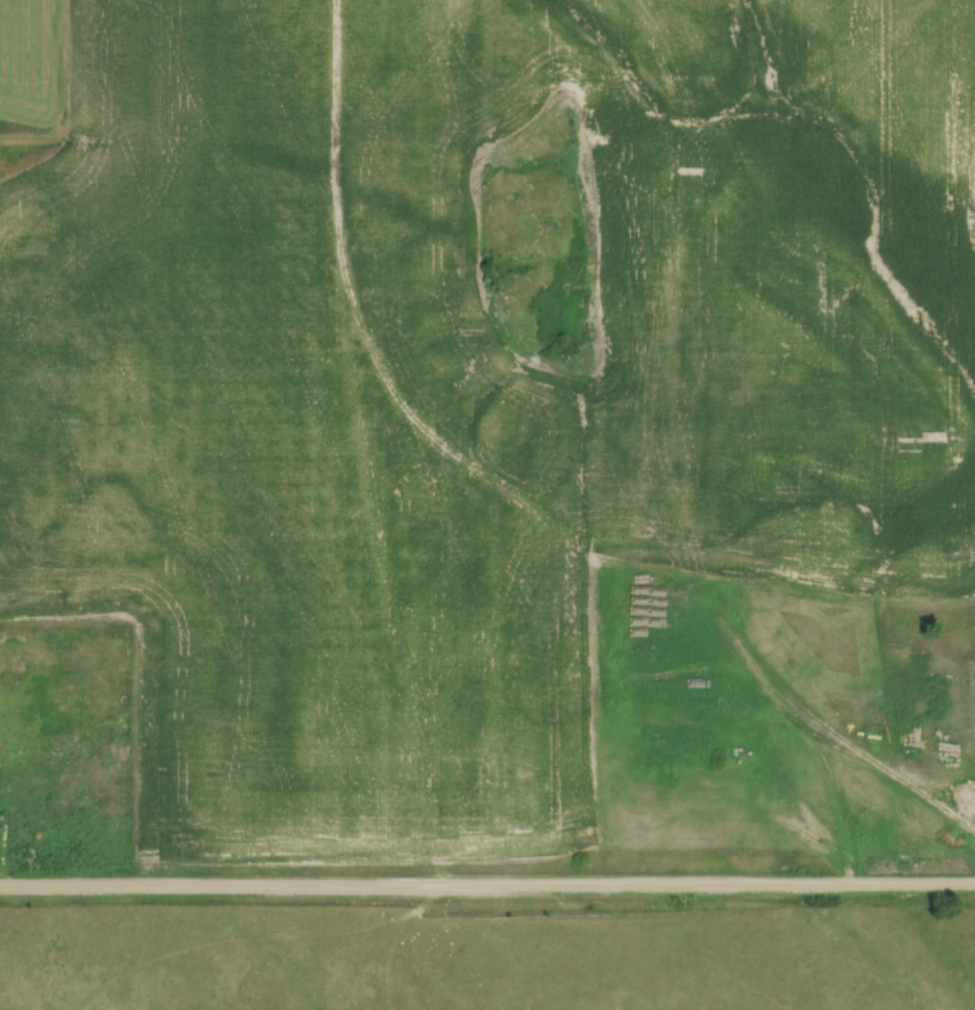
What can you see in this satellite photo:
road: (487, 886)

